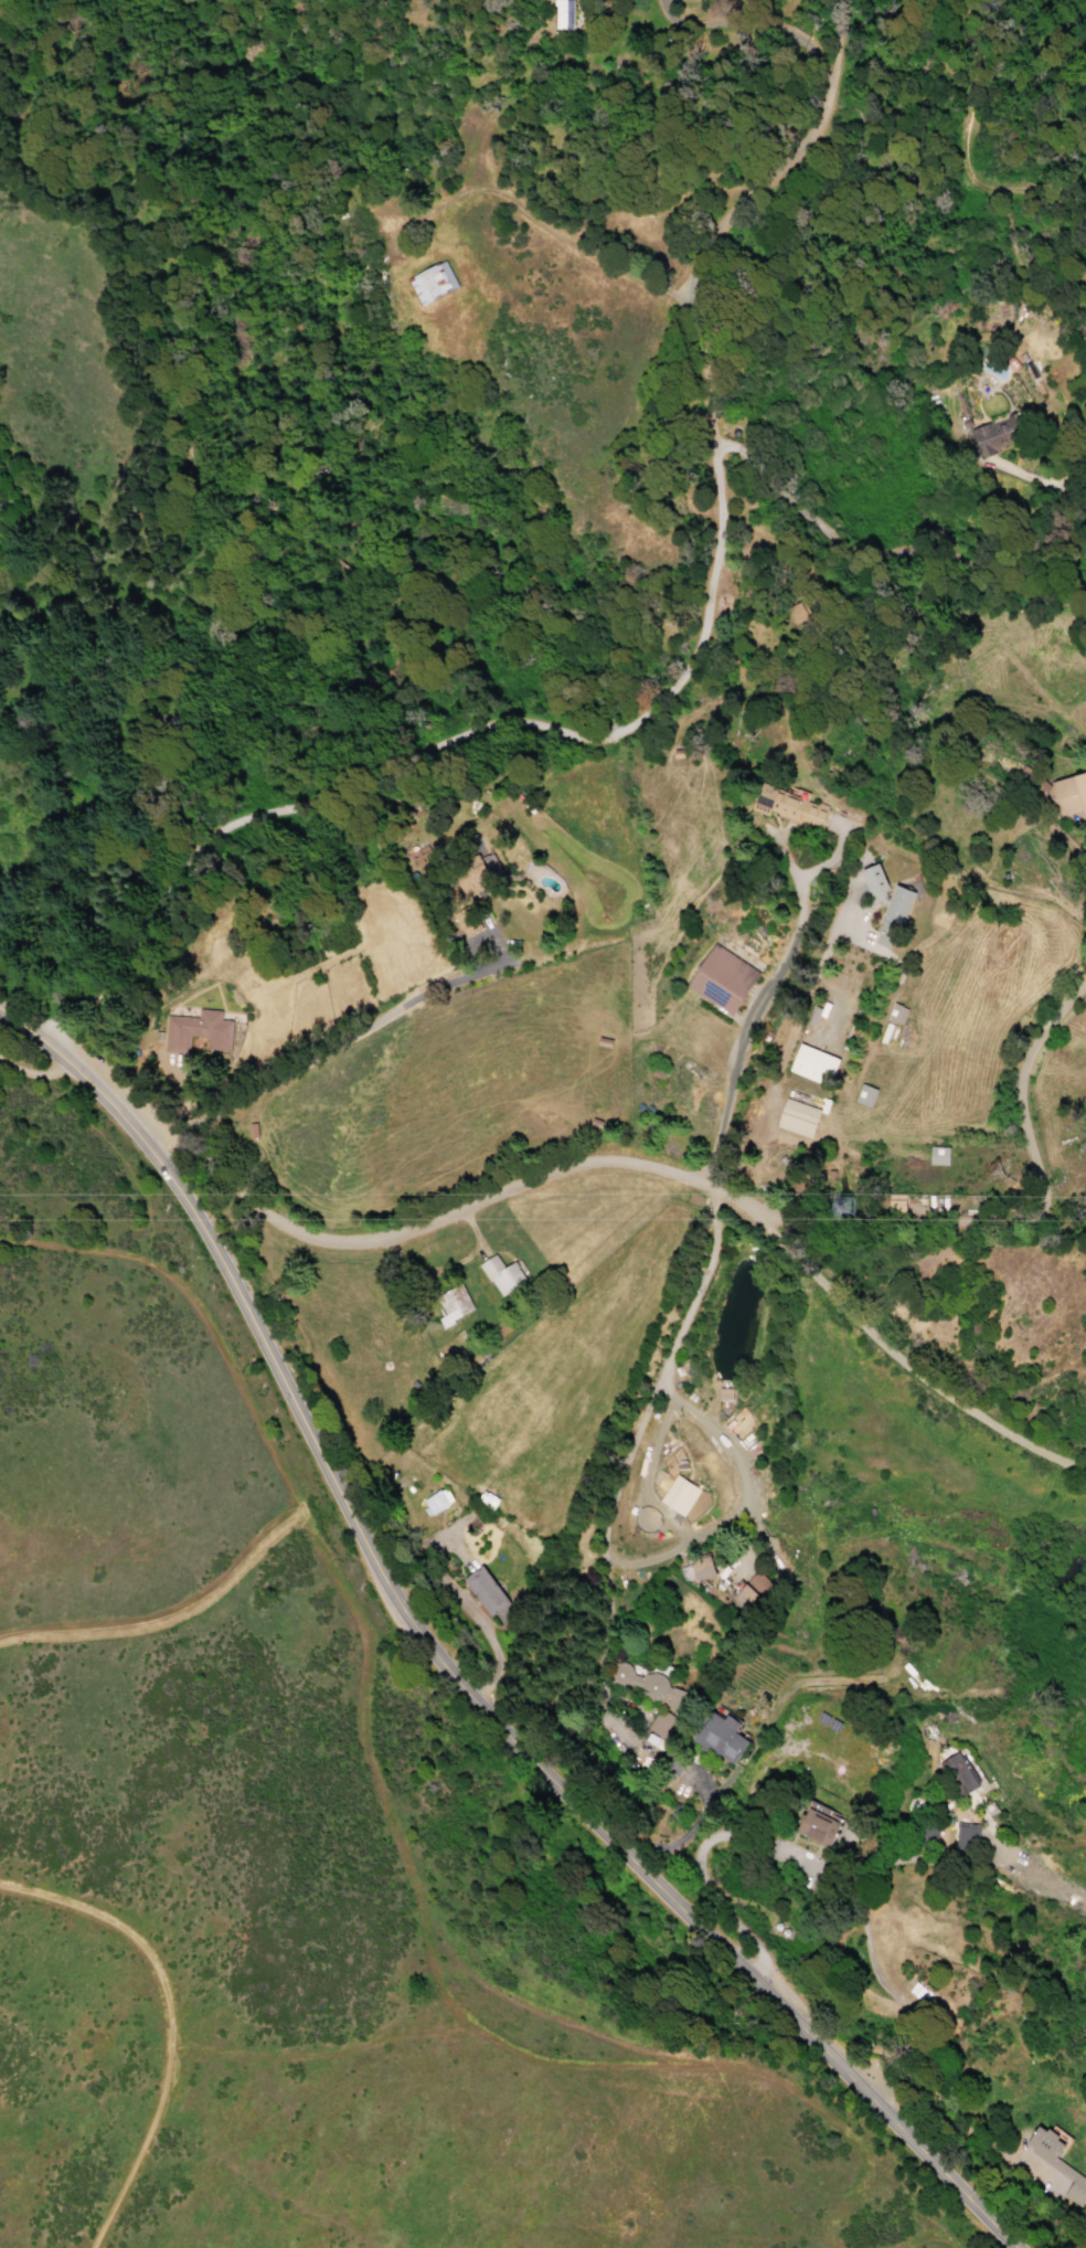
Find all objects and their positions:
building: (571, 18)
road: (954, 155)
road: (554, 235)
building: (432, 284)
building: (994, 434)
road: (666, 693)
building: (1068, 794)
building: (788, 807)
building: (417, 855)
building: (873, 879)
building: (892, 916)
building: (467, 922)
building: (721, 979)
building: (895, 1014)
road: (795, 1027)
building: (198, 1031)
road: (738, 1033)
road: (328, 1045)
building: (811, 1063)
parking lot: (104, 1075)
road: (38, 1089)
building: (863, 1095)
building: (796, 1118)
building: (937, 1156)
power tower: (844, 1200)
road: (472, 1213)
road: (1024, 1220)
building: (500, 1275)
building: (454, 1303)
road: (203, 1312)
road: (905, 1367)
building: (723, 1393)
road: (633, 1449)
building: (678, 1495)
building: (486, 1498)
building: (435, 1502)
building: (700, 1568)
building: (749, 1590)
building: (483, 1591)
road: (448, 1672)
building: (654, 1688)
building: (723, 1736)
building: (961, 1772)
building: (816, 1826)
road: (680, 1837)
building: (965, 1837)
road: (817, 1863)
road: (166, 2025)
building: (1056, 2163)

